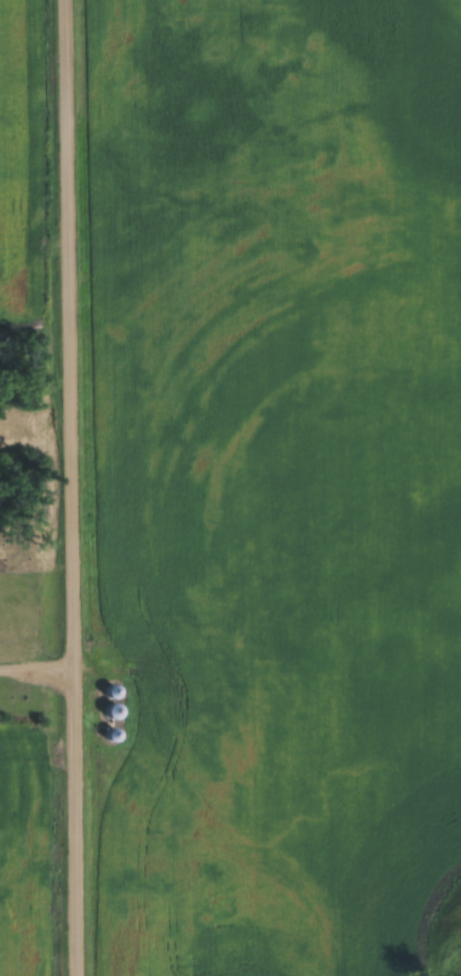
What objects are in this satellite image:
crop: (20, 149)
crop: (269, 479)
road: (71, 487)
road: (36, 670)
building: (111, 691)
building: (113, 709)
building: (112, 733)
crop: (33, 839)

